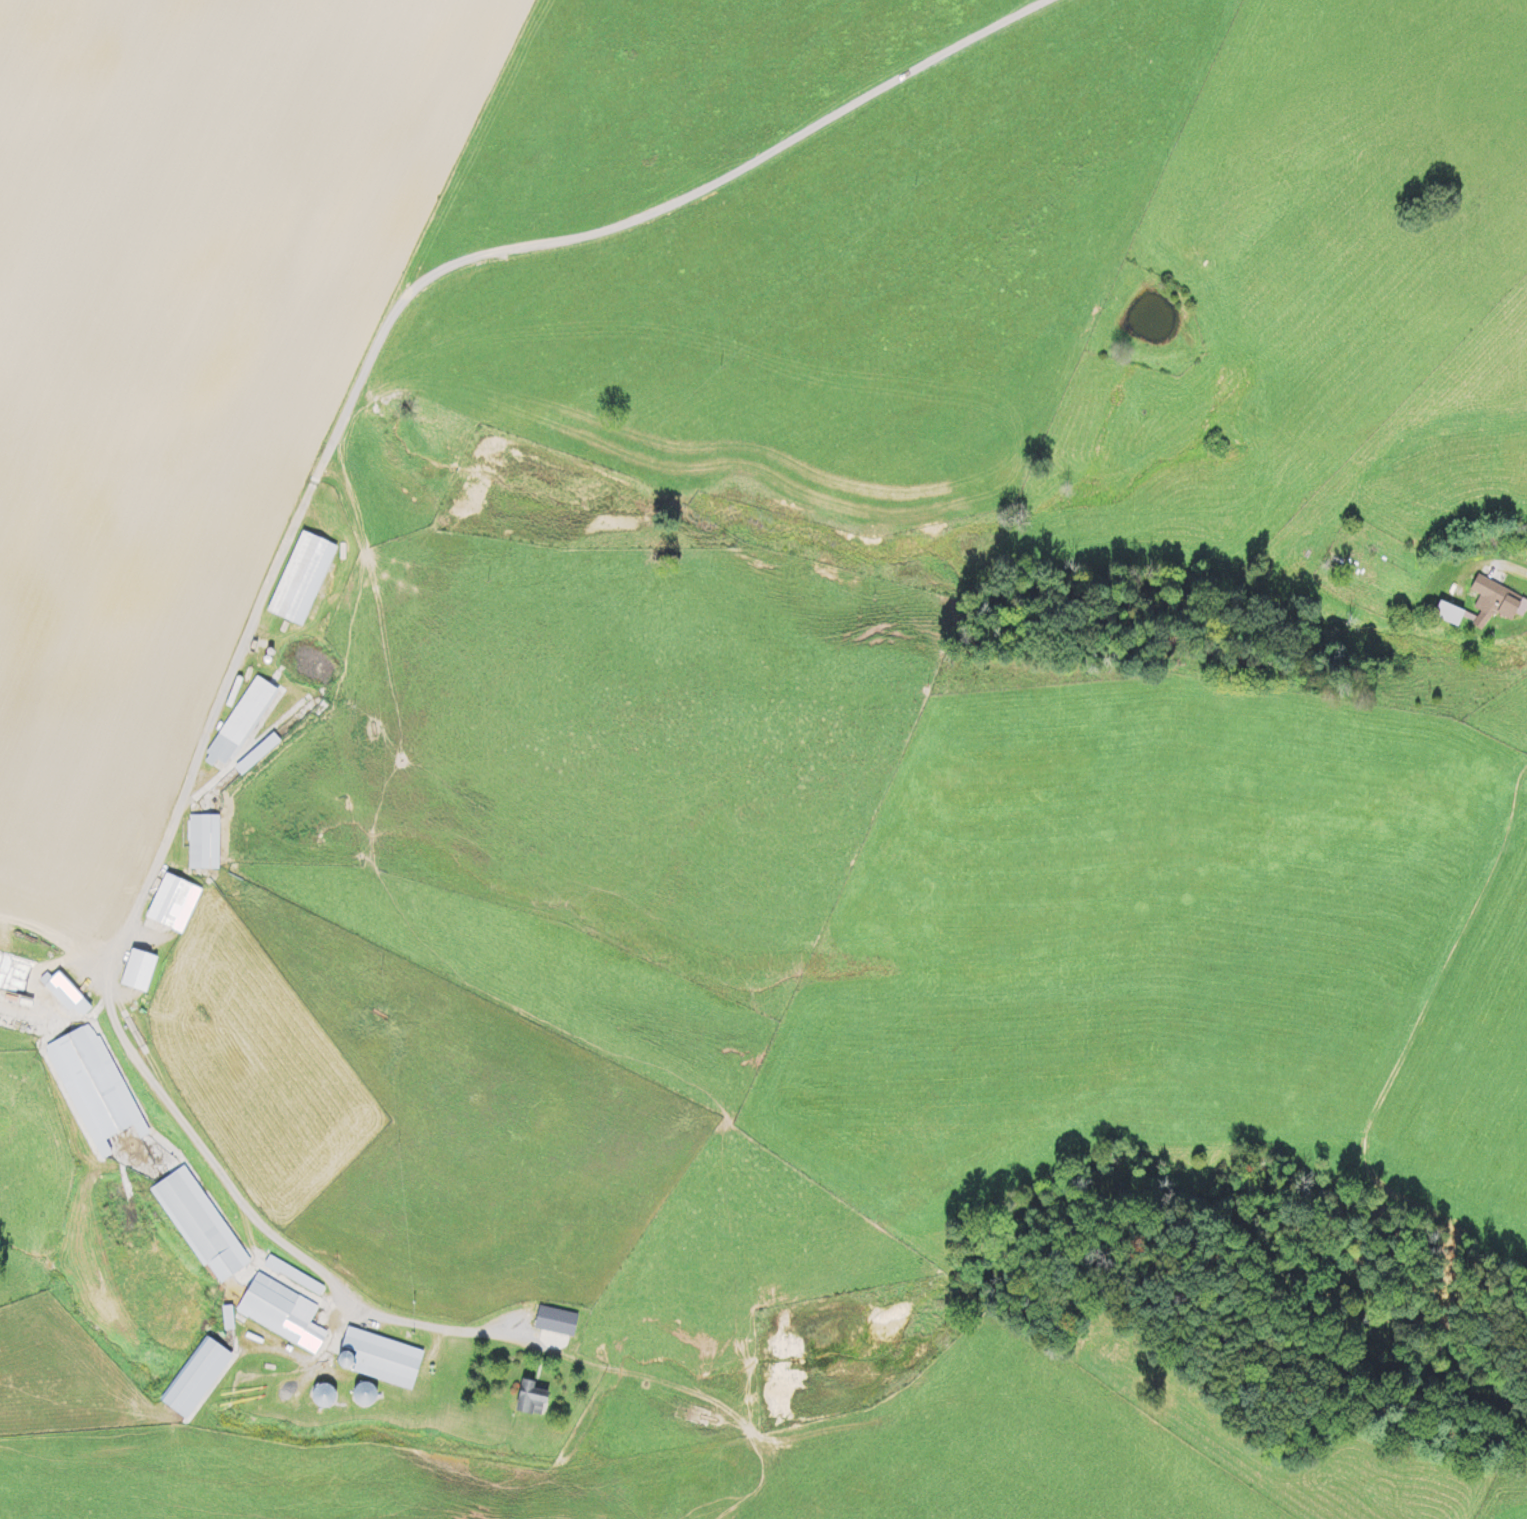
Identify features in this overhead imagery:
road: (1481, 561)
building: (300, 579)
road: (287, 600)
building: (1484, 606)
building: (239, 723)
building: (265, 748)
building: (202, 842)
building: (173, 903)
building: (141, 972)
building: (67, 995)
building: (93, 1086)
building: (199, 1225)
building: (293, 1276)
building: (281, 1314)
building: (555, 1320)
building: (378, 1359)
building: (196, 1378)
building: (323, 1395)
building: (364, 1395)
building: (530, 1399)

